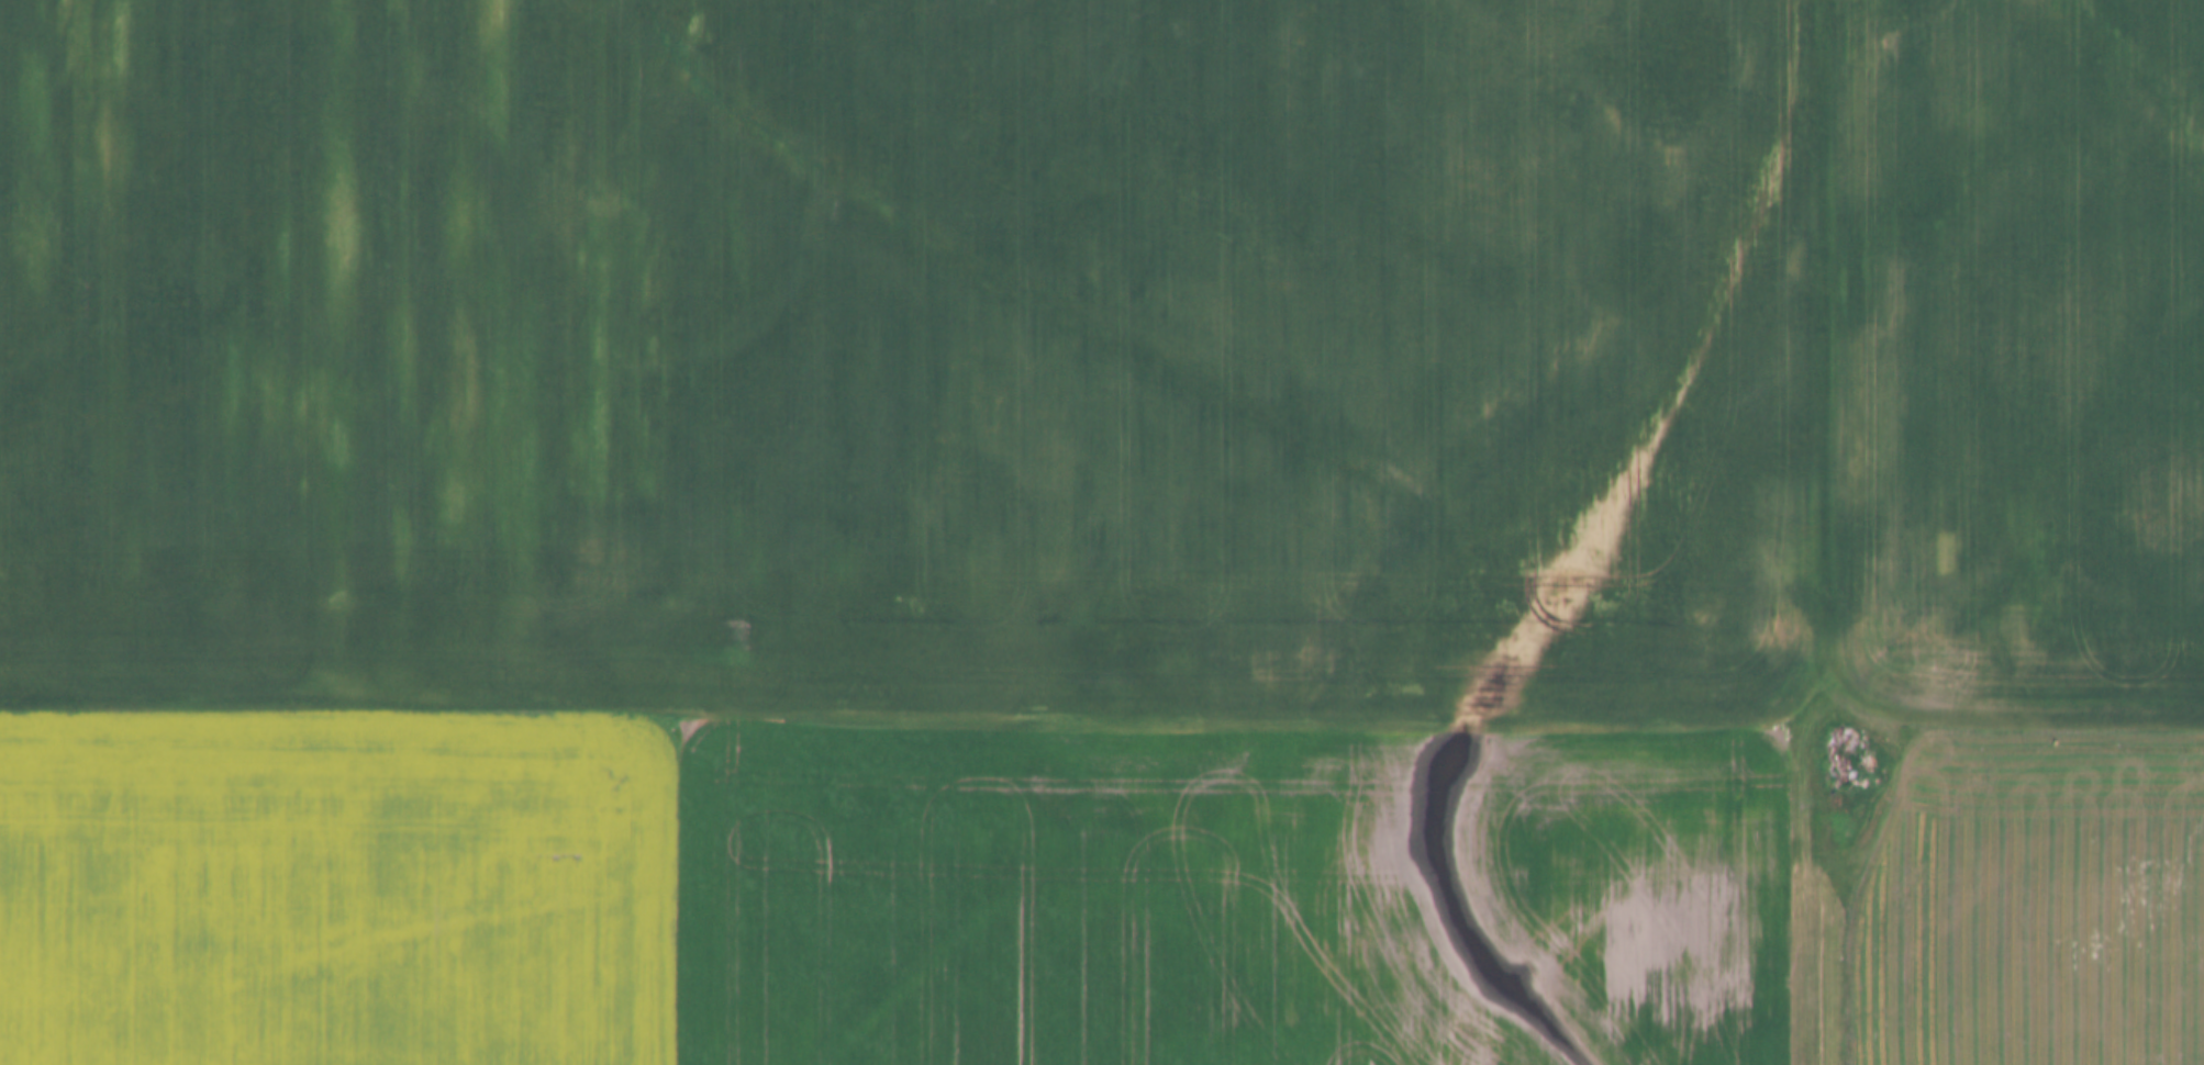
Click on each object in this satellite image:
road: (1803, 898)

